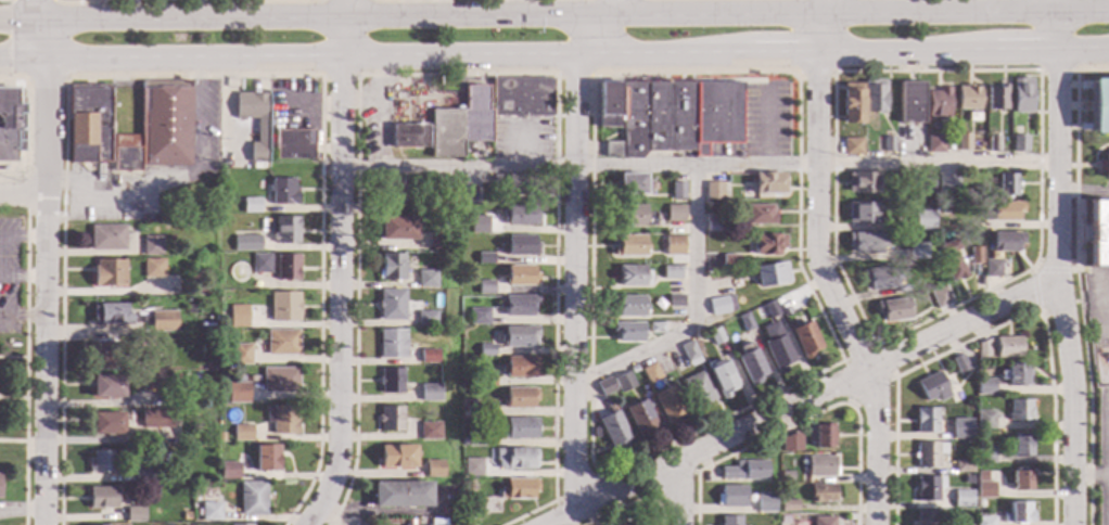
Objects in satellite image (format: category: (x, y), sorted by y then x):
road: (826, 8)
road: (1046, 8)
road: (607, 9)
road: (343, 10)
road: (404, 10)
road: (33, 11)
road: (571, 18)
road: (16, 22)
road: (821, 35)
road: (1050, 35)
road: (594, 37)
road: (342, 39)
road: (38, 40)
road: (1081, 53)
road: (904, 54)
road: (1022, 54)
road: (782, 55)
road: (395, 57)
road: (22, 59)
road: (1056, 69)
road: (980, 71)
road: (773, 73)
road: (814, 73)
road: (468, 75)
road: (572, 75)
road: (336, 76)
building: (872, 95)
building: (520, 97)
building: (1021, 97)
building: (967, 98)
building: (996, 98)
building: (909, 102)
building: (851, 103)
building: (938, 103)
building: (607, 105)
building: (1099, 106)
building: (677, 116)
building: (88, 124)
building: (459, 124)
building: (11, 125)
building: (156, 128)
building: (260, 130)
building: (1030, 132)
building: (406, 136)
building: (887, 142)
building: (961, 142)
building: (992, 142)
building: (933, 143)
building: (1018, 143)
building: (292, 144)
building: (850, 146)
building: (979, 146)
building: (610, 150)
building: (1104, 166)
road: (699, 168)
building: (861, 182)
building: (514, 183)
building: (767, 183)
building: (628, 184)
building: (925, 184)
building: (946, 184)
building: (1006, 184)
building: (448, 188)
building: (387, 191)
building: (676, 191)
building: (712, 191)
building: (282, 192)
road: (1083, 194)
road: (22, 196)
road: (113, 196)
building: (251, 205)
building: (1005, 210)
building: (674, 214)
building: (862, 214)
building: (759, 215)
building: (521, 216)
building: (632, 216)
building: (922, 220)
building: (477, 225)
building: (712, 227)
building: (396, 228)
building: (487, 228)
building: (284, 231)
building: (1098, 233)
building: (106, 238)
road: (22, 239)
building: (436, 241)
building: (864, 242)
building: (1005, 242)
building: (245, 243)
building: (766, 244)
building: (519, 245)
building: (626, 245)
building: (151, 246)
building: (672, 246)
building: (916, 252)
building: (974, 254)
building: (484, 257)
building: (222, 258)
building: (949, 259)
building: (473, 260)
building: (729, 262)
building: (259, 264)
building: (388, 267)
building: (152, 268)
building: (285, 268)
building: (992, 268)
road: (1031, 270)
building: (107, 272)
building: (670, 273)
building: (769, 274)
building: (521, 276)
building: (629, 277)
building: (879, 279)
road: (22, 280)
building: (424, 280)
road: (1074, 280)
road: (573, 282)
building: (734, 285)
building: (483, 290)
road: (1057, 290)
road: (44, 291)
building: (657, 291)
building: (726, 293)
road: (831, 293)
road: (340, 295)
building: (940, 297)
building: (674, 302)
building: (390, 305)
building: (517, 306)
building: (627, 306)
building: (721, 306)
building: (283, 307)
road: (1057, 307)
building: (769, 309)
building: (785, 309)
building: (891, 310)
road: (691, 312)
building: (110, 315)
building: (237, 316)
building: (477, 317)
building: (424, 318)
road: (22, 319)
building: (744, 322)
building: (157, 323)
road: (993, 328)
building: (653, 329)
building: (627, 332)
building: (518, 336)
building: (714, 336)
building: (803, 338)
building: (141, 341)
building: (280, 342)
building: (390, 344)
building: (775, 347)
building: (1007, 347)
building: (982, 349)
building: (485, 350)
building: (688, 354)
building: (240, 355)
building: (103, 356)
building: (426, 357)
building: (468, 363)
building: (750, 363)
building: (959, 363)
building: (519, 368)
building: (632, 369)
building: (649, 373)
building: (1015, 375)
building: (169, 376)
building: (721, 377)
building: (279, 380)
building: (154, 381)
building: (388, 381)
building: (486, 382)
building: (623, 383)
road: (882, 384)
building: (106, 386)
building: (604, 386)
building: (984, 386)
building: (932, 387)
building: (698, 389)
building: (237, 393)
building: (428, 394)
building: (247, 396)
building: (519, 398)
road: (802, 402)
building: (667, 405)
building: (482, 408)
building: (1019, 411)
building: (640, 418)
building: (155, 419)
building: (388, 419)
road: (801, 419)
building: (281, 420)
building: (984, 420)
building: (926, 421)
building: (106, 423)
building: (517, 428)
building: (960, 430)
building: (612, 431)
building: (241, 432)
building: (426, 432)
building: (821, 436)
building: (477, 438)
building: (463, 441)
building: (791, 443)
building: (1021, 446)
building: (928, 453)
building: (984, 454)
road: (1107, 456)
building: (395, 457)
building: (265, 458)
building: (510, 458)
building: (100, 462)
building: (820, 466)
building: (963, 466)
building: (472, 468)
building: (432, 470)
building: (228, 471)
building: (744, 471)
building: (141, 474)
building: (786, 476)
road: (1089, 477)
building: (154, 481)
building: (1021, 481)
road: (672, 485)
road: (575, 487)
building: (928, 488)
building: (517, 489)
building: (984, 490)
building: (821, 494)
building: (399, 495)
road: (678, 495)
building: (101, 497)
building: (730, 497)
building: (251, 498)
building: (961, 499)
building: (467, 500)
road: (1106, 501)
building: (764, 502)
road: (630, 503)
building: (788, 507)
road: (22, 511)
building: (205, 511)
building: (133, 514)
building: (1018, 514)
building: (183, 516)
building: (927, 518)
building: (783, 520)
building: (730, 521)
building: (823, 521)
building: (984, 521)
building: (435, 522)
building: (360, 523)
building: (241, 524)
building: (626, 524)

